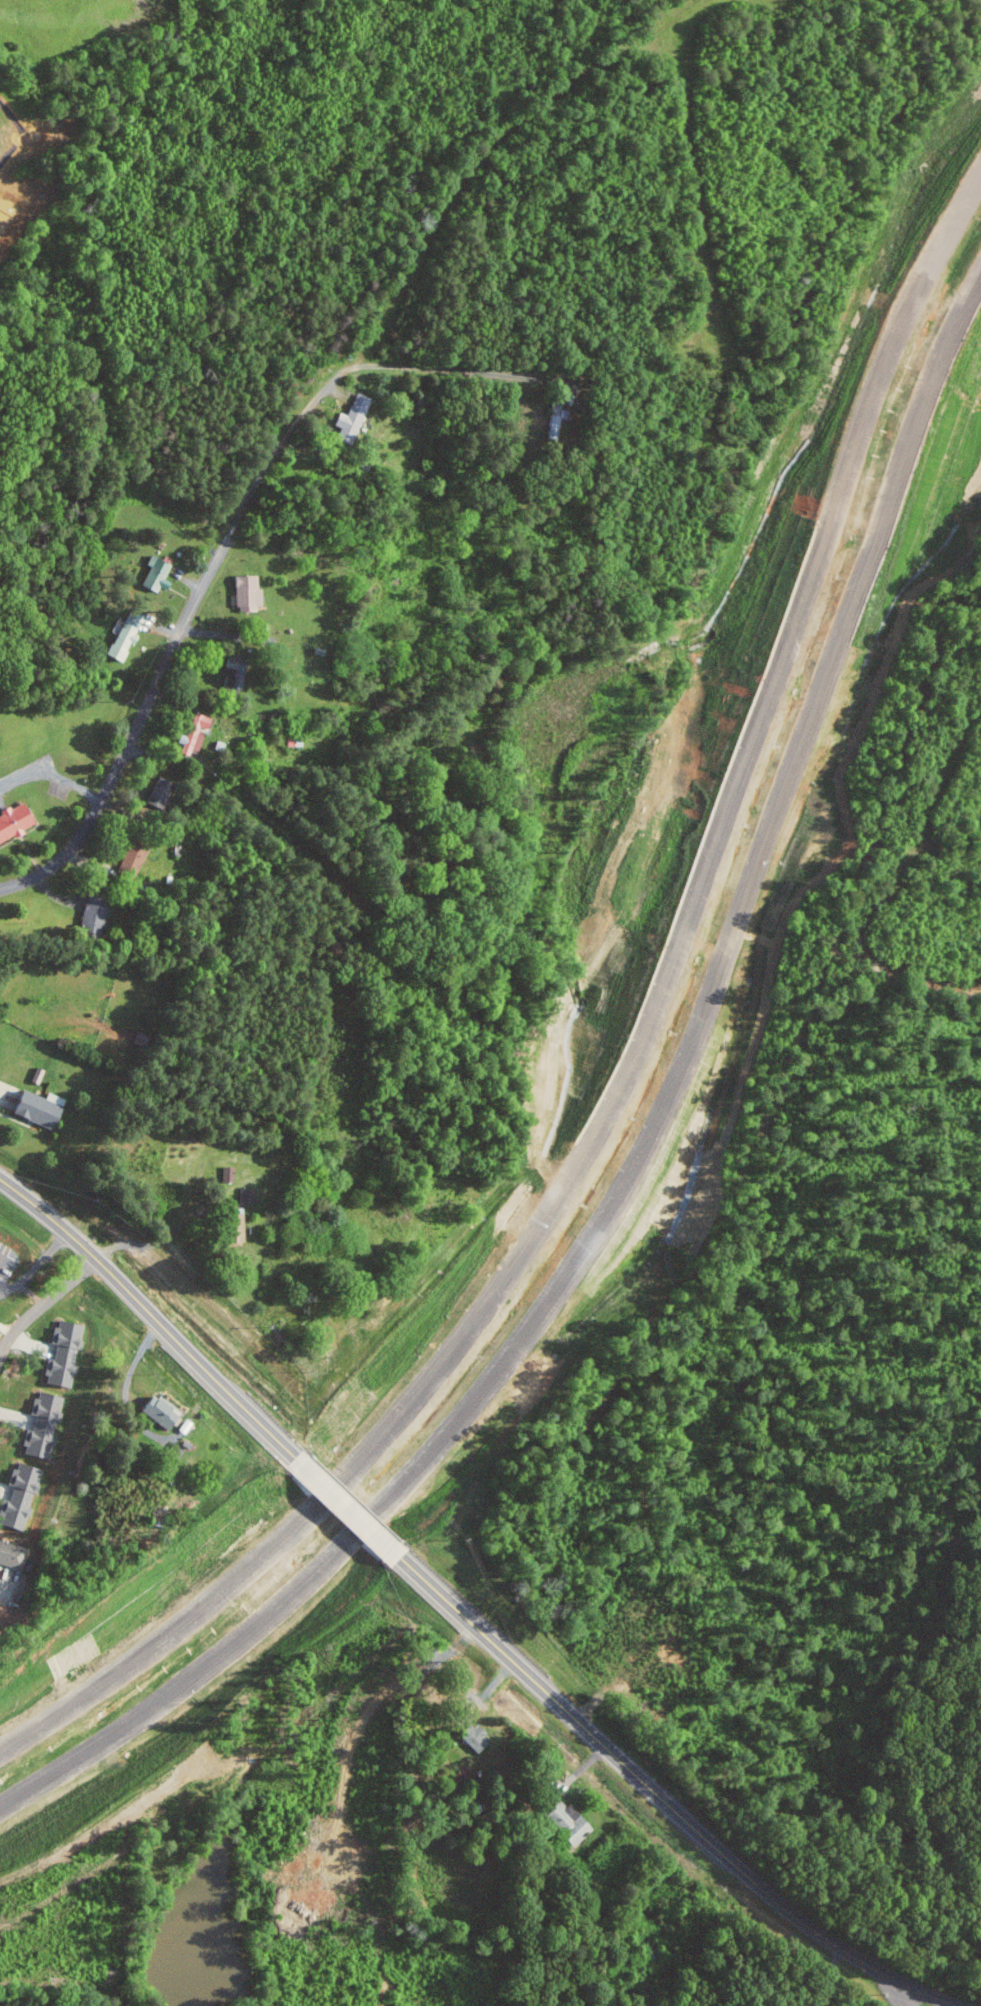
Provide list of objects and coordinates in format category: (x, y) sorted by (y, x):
road: (441, 369)
building: (350, 418)
building: (555, 418)
building: (152, 574)
building: (244, 592)
road: (216, 633)
building: (121, 636)
road: (173, 645)
building: (229, 673)
building: (192, 734)
building: (159, 793)
building: (11, 821)
building: (128, 860)
building: (90, 920)
road: (631, 1059)
building: (34, 1075)
road: (5, 1093)
building: (32, 1107)
road: (642, 1137)
building: (225, 1174)
building: (244, 1196)
building: (230, 1226)
road: (156, 1245)
road: (44, 1304)
road: (154, 1317)
building: (60, 1354)
building: (155, 1412)
building: (38, 1426)
building: (17, 1495)
road: (347, 1508)
building: (11, 1556)
building: (512, 1710)
building: (470, 1736)
road: (661, 1797)
building: (565, 1822)
road: (826, 1976)
road: (901, 1994)

